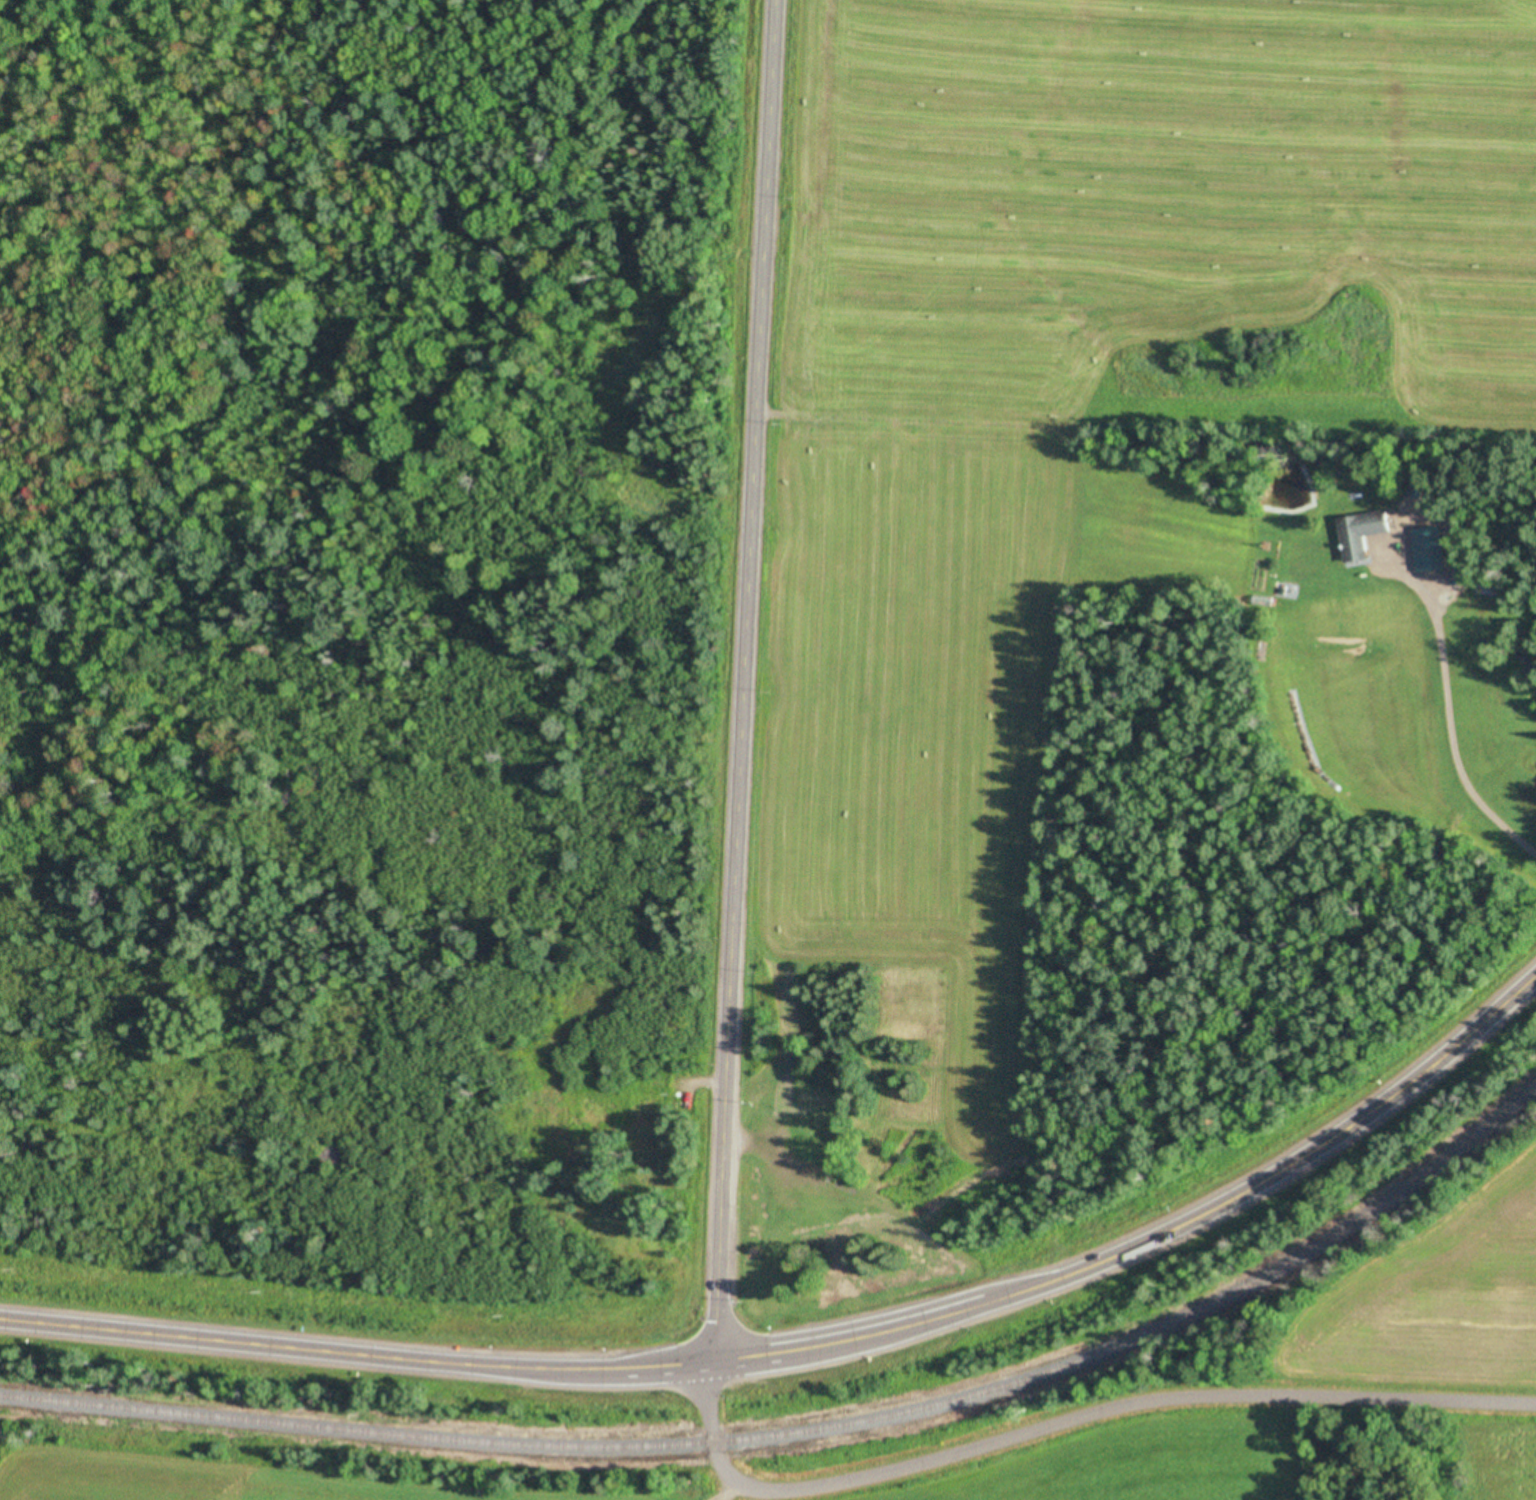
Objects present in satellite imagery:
building: (1363, 535)
building: (1429, 552)
road: (747, 681)
road: (816, 1347)
road: (1068, 1422)
railway: (809, 1431)

